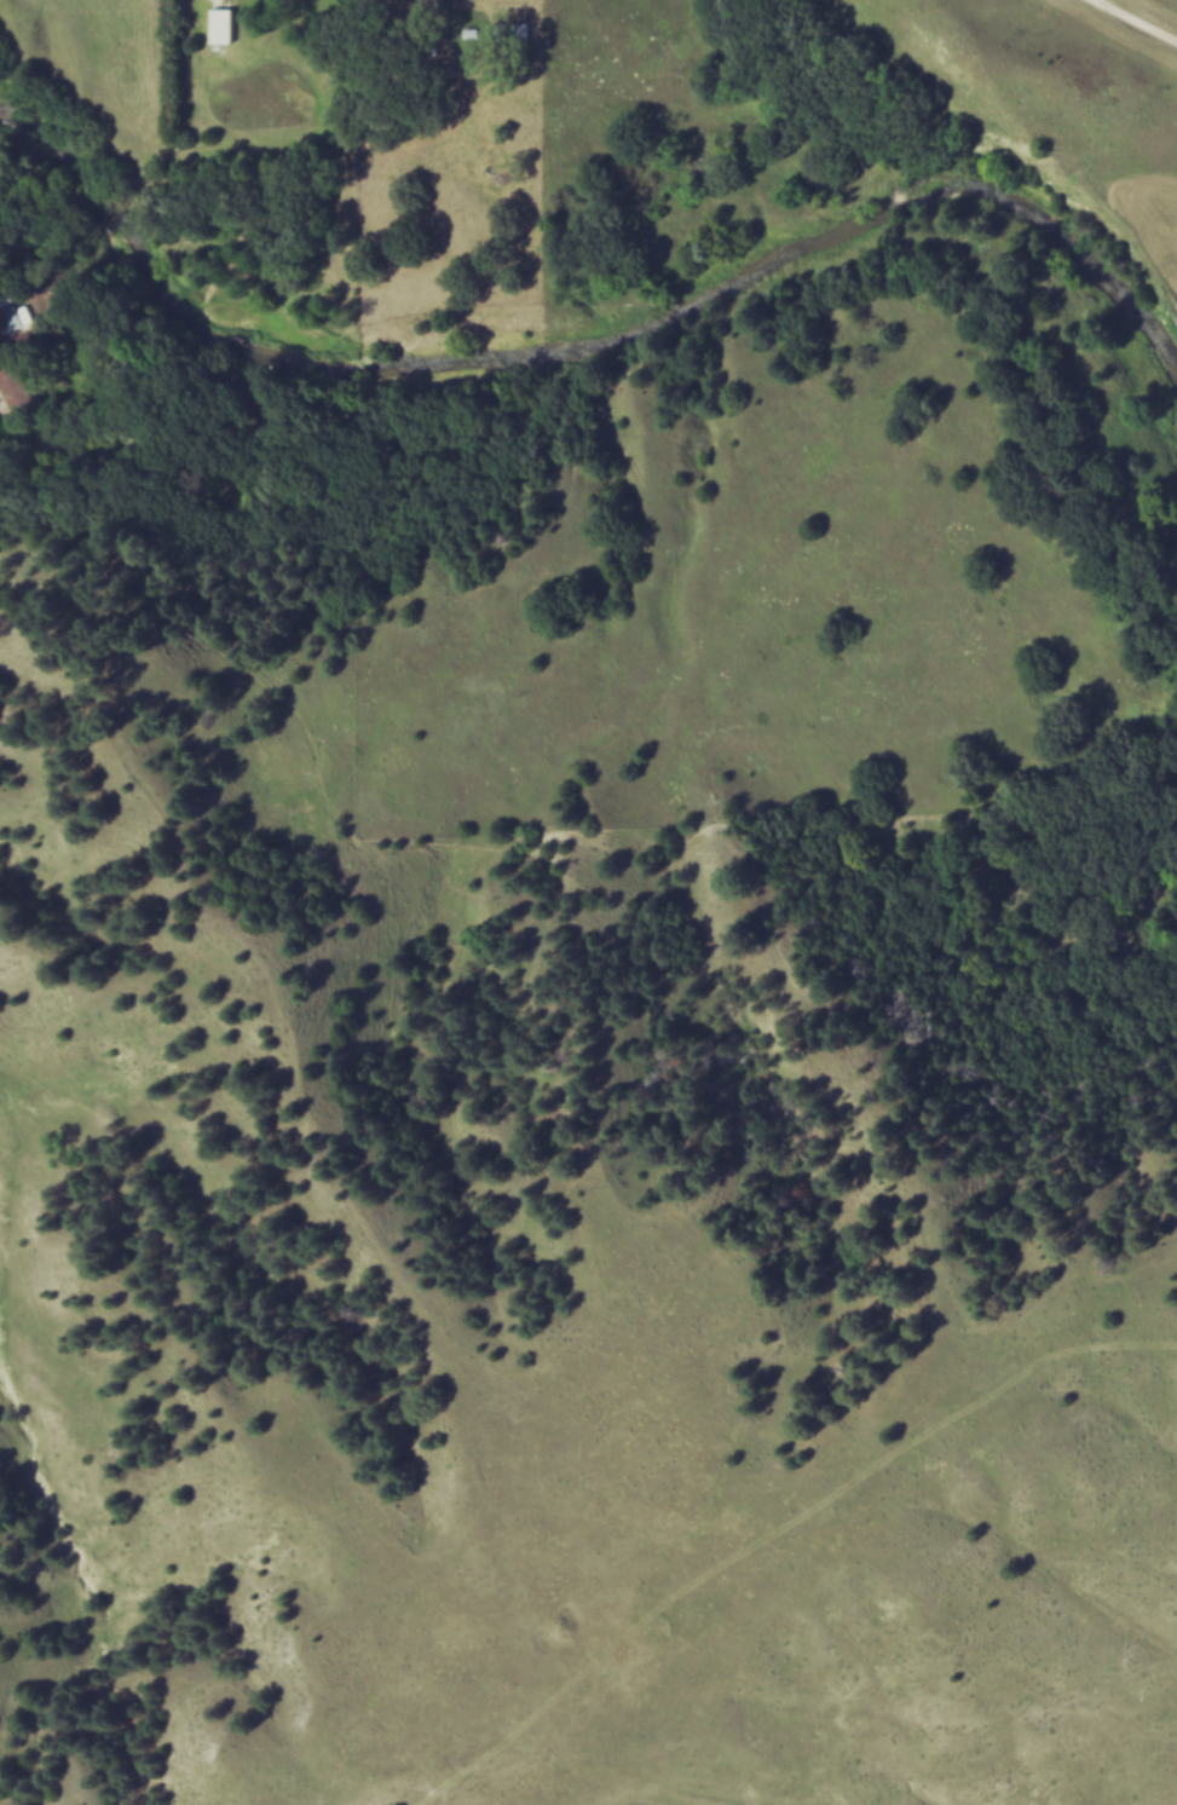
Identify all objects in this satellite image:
road: (1129, 23)
building: (227, 27)
building: (12, 316)
building: (18, 391)
road: (11, 439)

